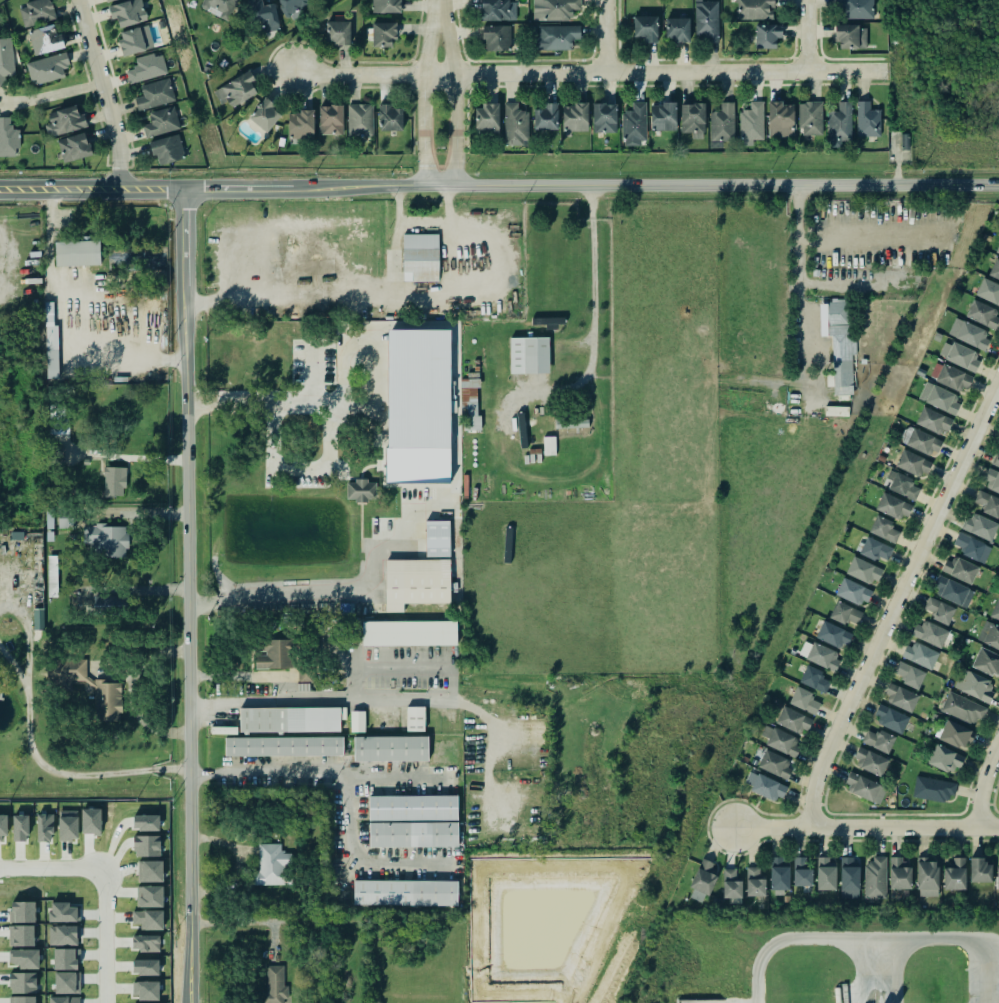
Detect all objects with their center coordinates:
building: (108, 0)
building: (293, 6)
building: (385, 7)
building: (219, 8)
building: (553, 8)
building: (855, 8)
building: (495, 10)
building: (754, 10)
building: (36, 12)
building: (128, 12)
road: (438, 12)
building: (264, 15)
building: (706, 20)
building: (646, 28)
building: (677, 31)
building: (337, 33)
building: (382, 34)
building: (765, 34)
building: (557, 36)
building: (851, 37)
building: (495, 38)
road: (606, 38)
road: (802, 39)
building: (45, 40)
building: (135, 40)
building: (6, 60)
building: (47, 68)
building: (147, 68)
road: (585, 76)
building: (235, 91)
road: (104, 93)
building: (153, 94)
road: (51, 95)
road: (457, 102)
road: (424, 103)
building: (265, 115)
building: (663, 116)
building: (810, 116)
building: (546, 117)
building: (575, 117)
building: (390, 118)
building: (604, 118)
building: (331, 119)
building: (487, 119)
building: (780, 119)
building: (360, 120)
building: (691, 120)
building: (839, 120)
building: (867, 120)
building: (65, 121)
building: (160, 121)
building: (751, 121)
building: (634, 123)
building: (722, 123)
building: (301, 125)
building: (515, 125)
building: (8, 137)
building: (74, 147)
building: (166, 149)
road: (499, 185)
road: (449, 238)
road: (396, 239)
building: (997, 249)
building: (77, 253)
building: (420, 257)
building: (995, 269)
road: (799, 290)
building: (988, 291)
road: (320, 296)
road: (592, 311)
building: (982, 314)
road: (69, 318)
building: (547, 321)
building: (969, 334)
building: (839, 341)
building: (51, 342)
building: (529, 355)
building: (960, 356)
building: (953, 378)
road: (277, 394)
building: (941, 399)
building: (470, 404)
building: (418, 406)
building: (837, 411)
building: (57, 419)
building: (933, 421)
building: (571, 422)
building: (521, 430)
building: (924, 442)
building: (549, 445)
building: (56, 455)
building: (996, 461)
building: (913, 463)
building: (114, 481)
building: (992, 482)
building: (901, 485)
building: (361, 490)
building: (988, 504)
building: (892, 506)
road: (237, 526)
building: (980, 527)
building: (884, 529)
building: (436, 538)
building: (106, 539)
building: (972, 547)
building: (875, 549)
building: (959, 569)
building: (864, 571)
building: (415, 582)
building: (952, 591)
building: (852, 592)
road: (188, 595)
road: (274, 595)
building: (109, 602)
road: (896, 602)
building: (940, 610)
building: (995, 611)
building: (845, 613)
building: (38, 618)
building: (408, 633)
building: (929, 633)
building: (989, 634)
building: (833, 635)
road: (28, 641)
building: (277, 654)
building: (920, 655)
building: (823, 657)
building: (987, 662)
road: (15, 669)
building: (70, 672)
building: (909, 675)
road: (232, 676)
building: (814, 679)
building: (974, 685)
building: (901, 698)
road: (354, 699)
building: (106, 700)
building: (804, 700)
building: (963, 708)
building: (415, 718)
building: (290, 719)
building: (891, 719)
building: (794, 720)
building: (357, 721)
building: (955, 734)
building: (780, 740)
building: (879, 740)
building: (284, 746)
building: (390, 748)
building: (945, 759)
building: (871, 761)
building: (774, 764)
road: (78, 773)
road: (317, 774)
road: (985, 783)
building: (764, 786)
building: (865, 787)
building: (933, 789)
building: (413, 807)
building: (146, 822)
building: (67, 824)
building: (3, 826)
building: (20, 827)
building: (45, 827)
road: (866, 827)
building: (413, 834)
building: (147, 845)
road: (357, 857)
building: (271, 864)
road: (52, 870)
building: (150, 870)
building: (980, 871)
building: (802, 872)
building: (900, 873)
building: (779, 874)
building: (826, 874)
building: (955, 875)
building: (876, 878)
building: (927, 878)
building: (703, 879)
building: (849, 879)
building: (998, 879)
building: (755, 882)
building: (731, 884)
building: (404, 892)
building: (150, 896)
building: (343, 896)
building: (21, 911)
building: (62, 912)
road: (248, 922)
building: (62, 934)
building: (20, 935)
road: (104, 936)
road: (940, 939)
building: (145, 942)
building: (24, 958)
building: (64, 958)
building: (145, 966)
building: (22, 982)
building: (67, 982)
building: (274, 984)
building: (144, 989)
building: (22, 999)
building: (63, 999)

